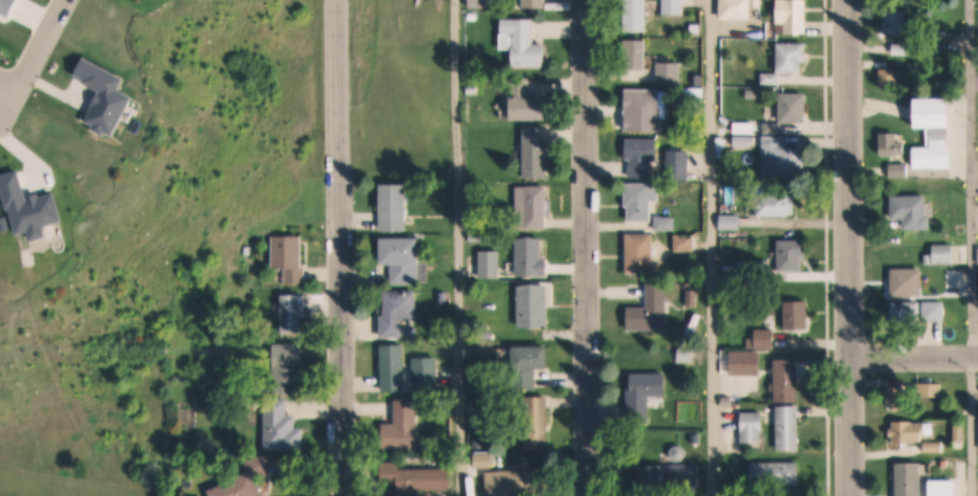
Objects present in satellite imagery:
building: (534, 3)
building: (674, 6)
building: (736, 8)
building: (637, 15)
building: (472, 16)
building: (793, 16)
building: (896, 22)
building: (696, 27)
building: (761, 33)
building: (523, 42)
building: (903, 49)
road: (35, 51)
building: (638, 54)
building: (792, 56)
building: (918, 67)
building: (670, 71)
building: (893, 76)
building: (770, 78)
building: (698, 79)
building: (697, 91)
building: (753, 93)
building: (109, 94)
building: (527, 101)
building: (649, 107)
building: (794, 107)
building: (744, 127)
building: (773, 128)
building: (935, 132)
building: (744, 142)
building: (892, 145)
building: (536, 152)
building: (643, 156)
building: (782, 159)
building: (678, 162)
building: (899, 170)
road: (974, 177)
building: (640, 200)
building: (776, 204)
building: (394, 206)
building: (532, 206)
building: (913, 211)
building: (664, 221)
building: (730, 221)
building: (477, 224)
building: (735, 233)
building: (475, 236)
building: (685, 241)
road: (460, 247)
road: (588, 247)
road: (340, 248)
road: (714, 248)
road: (852, 248)
building: (641, 252)
building: (792, 254)
building: (945, 254)
building: (286, 257)
building: (531, 257)
building: (401, 258)
building: (930, 259)
building: (489, 265)
building: (755, 269)
building: (908, 281)
building: (441, 296)
building: (534, 305)
building: (652, 309)
building: (397, 311)
building: (920, 311)
building: (291, 313)
building: (798, 314)
building: (762, 339)
road: (916, 354)
building: (673, 355)
building: (686, 355)
building: (748, 361)
building: (393, 365)
building: (528, 365)
building: (287, 367)
building: (425, 370)
building: (787, 380)
building: (931, 389)
building: (645, 394)
building: (897, 394)
building: (961, 409)
building: (538, 423)
building: (402, 425)
road: (975, 425)
building: (282, 426)
building: (752, 426)
building: (789, 427)
building: (910, 432)
building: (959, 434)
building: (776, 473)
building: (671, 477)
building: (418, 479)
building: (910, 479)
building: (247, 480)
building: (519, 481)
building: (946, 488)

